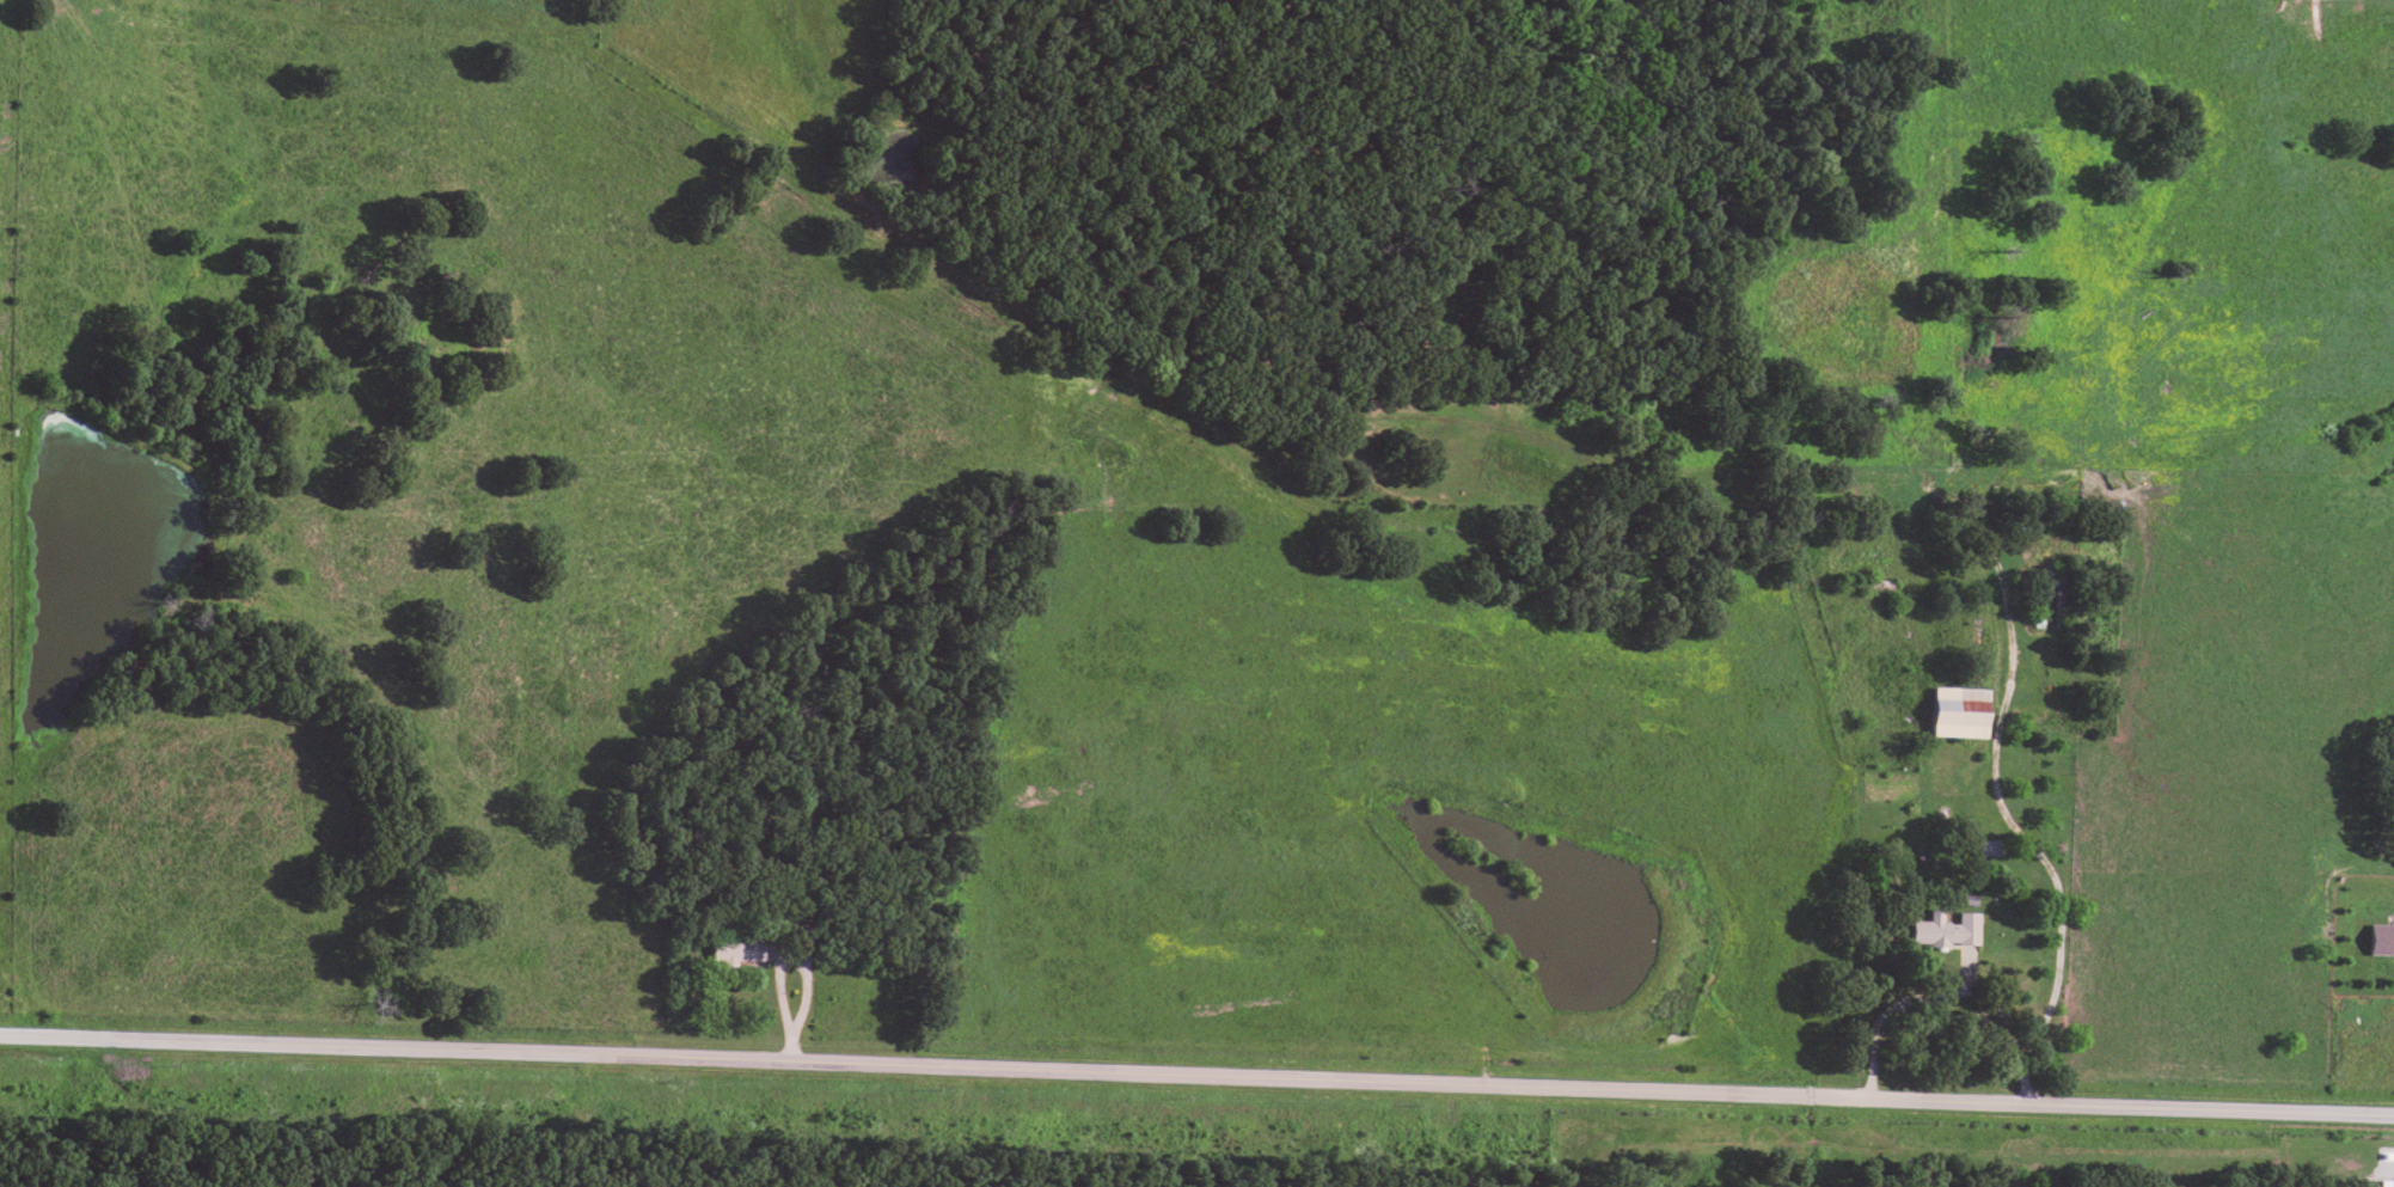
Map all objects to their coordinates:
building: (1958, 710)
road: (2000, 812)
building: (1945, 926)
building: (2381, 937)
building: (735, 947)
road: (777, 962)
road: (784, 1042)
road: (1196, 1072)
building: (2384, 1182)

